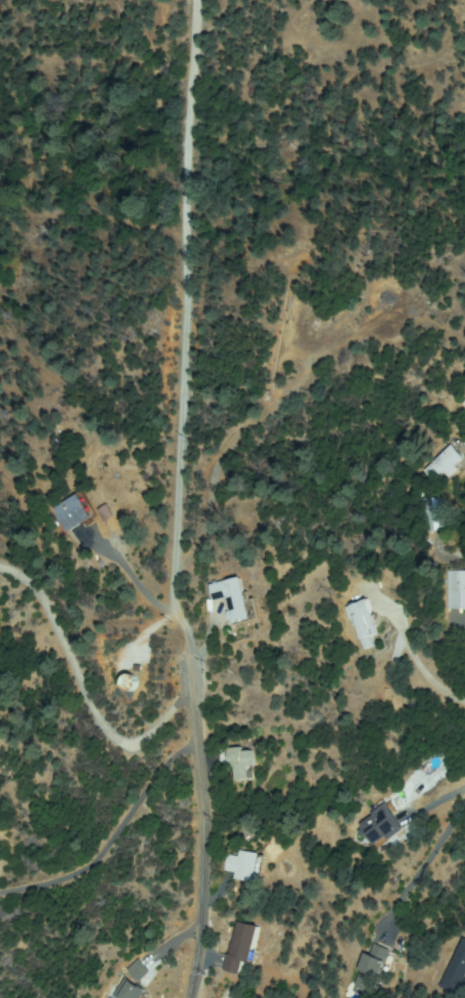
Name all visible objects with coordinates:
building: (338, 328)
building: (463, 401)
building: (443, 463)
road: (180, 499)
building: (74, 513)
building: (105, 513)
building: (430, 514)
building: (462, 591)
building: (235, 601)
building: (363, 622)
building: (126, 660)
building: (129, 683)
building: (241, 763)
building: (383, 827)
building: (244, 866)
building: (242, 948)
building: (373, 970)
building: (139, 971)
building: (456, 974)
building: (145, 978)
building: (130, 991)

